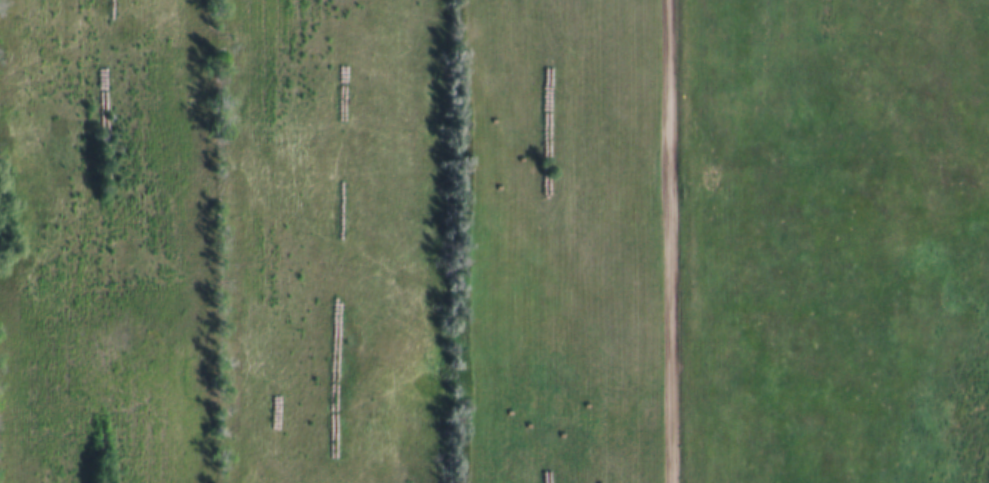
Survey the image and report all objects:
road: (668, 241)

